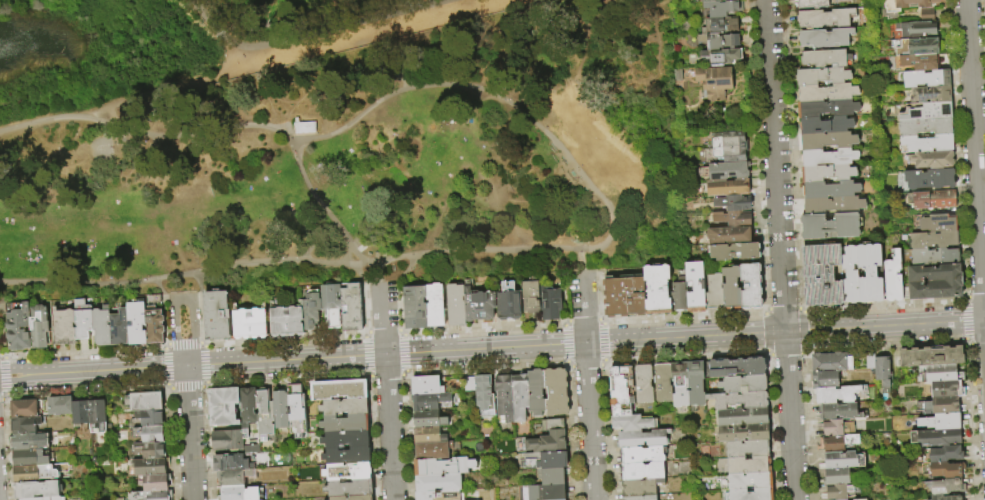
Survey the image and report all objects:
building: (716, 0)
building: (813, 4)
building: (907, 4)
building: (723, 8)
building: (927, 15)
building: (825, 18)
road: (353, 23)
building: (720, 25)
building: (916, 28)
road: (216, 32)
building: (825, 38)
building: (719, 42)
park: (181, 45)
building: (916, 47)
building: (722, 57)
building: (826, 58)
building: (922, 62)
building: (678, 76)
building: (823, 76)
building: (714, 78)
building: (927, 78)
building: (827, 92)
road: (495, 94)
building: (714, 95)
building: (931, 95)
road: (131, 98)
building: (828, 108)
building: (927, 111)
building: (826, 125)
building: (925, 127)
road: (272, 128)
building: (304, 128)
building: (828, 140)
road: (298, 141)
building: (927, 143)
park: (101, 148)
building: (727, 148)
road: (757, 154)
road: (791, 155)
building: (830, 157)
building: (932, 159)
park: (366, 165)
road: (975, 166)
building: (726, 171)
building: (828, 173)
building: (930, 179)
building: (726, 187)
building: (831, 190)
building: (931, 200)
building: (733, 203)
building: (834, 205)
building: (731, 219)
building: (935, 223)
building: (830, 226)
building: (729, 235)
building: (934, 240)
road: (780, 249)
road: (461, 251)
building: (735, 252)
building: (935, 257)
road: (572, 271)
road: (588, 271)
road: (181, 273)
road: (359, 274)
building: (850, 274)
building: (870, 274)
building: (822, 275)
building: (894, 278)
road: (198, 281)
building: (935, 282)
road: (388, 283)
road: (157, 285)
building: (751, 286)
building: (695, 287)
building: (731, 287)
building: (657, 290)
road: (11, 293)
building: (714, 293)
building: (679, 295)
road: (564, 296)
road: (597, 296)
building: (624, 296)
building: (531, 297)
road: (964, 297)
road: (976, 297)
road: (181, 302)
building: (509, 302)
building: (332, 304)
building: (550, 304)
road: (884, 304)
building: (435, 305)
building: (456, 305)
building: (479, 305)
road: (398, 306)
building: (415, 307)
road: (583, 307)
building: (353, 308)
road: (364, 308)
road: (783, 308)
building: (311, 309)
road: (765, 309)
road: (802, 310)
building: (217, 315)
road: (683, 316)
road: (200, 317)
road: (164, 318)
building: (84, 319)
building: (286, 320)
road: (582, 320)
road: (601, 320)
road: (565, 321)
road: (963, 321)
building: (137, 323)
building: (251, 324)
building: (40, 326)
building: (103, 326)
building: (155, 326)
building: (65, 327)
road: (483, 327)
building: (20, 328)
building: (120, 328)
road: (1, 330)
road: (382, 331)
road: (364, 332)
road: (401, 332)
road: (284, 339)
road: (183, 343)
road: (966, 343)
road: (977, 343)
road: (203, 344)
road: (164, 345)
road: (492, 349)
road: (83, 351)
road: (3, 356)
building: (932, 356)
building: (870, 360)
building: (832, 362)
building: (737, 368)
building: (883, 371)
building: (942, 373)
building: (825, 379)
building: (663, 382)
building: (643, 383)
building: (697, 383)
building: (469, 384)
building: (743, 384)
building: (679, 385)
building: (426, 386)
building: (943, 389)
building: (339, 390)
building: (621, 391)
road: (387, 392)
building: (537, 392)
building: (556, 392)
building: (836, 395)
building: (520, 396)
building: (484, 397)
building: (505, 397)
building: (144, 401)
building: (429, 401)
building: (739, 401)
building: (60, 405)
building: (942, 405)
building: (224, 406)
building: (248, 407)
building: (344, 407)
building: (25, 409)
building: (280, 410)
building: (296, 411)
building: (840, 411)
building: (264, 414)
building: (81, 416)
building: (97, 416)
building: (743, 417)
building: (150, 418)
building: (428, 419)
road: (589, 421)
building: (941, 421)
building: (633, 423)
building: (345, 424)
building: (25, 425)
building: (837, 427)
road: (189, 433)
building: (743, 433)
building: (146, 435)
building: (429, 435)
building: (935, 437)
building: (549, 438)
building: (346, 439)
building: (643, 439)
building: (231, 441)
building: (26, 442)
building: (839, 442)
building: (747, 448)
building: (436, 450)
building: (148, 451)
building: (942, 454)
building: (642, 455)
building: (347, 456)
building: (32, 458)
building: (544, 460)
building: (841, 460)
building: (862, 461)
building: (231, 463)
building: (749, 465)
building: (443, 466)
building: (149, 467)
building: (943, 469)
building: (348, 471)
building: (641, 471)
building: (38, 472)
building: (551, 476)
building: (836, 476)
building: (235, 478)
building: (750, 481)
building: (155, 482)
building: (438, 483)
building: (946, 486)
building: (640, 487)
building: (349, 488)
building: (38, 489)
building: (840, 491)
building: (542, 492)
building: (240, 494)
building: (151, 495)
building: (438, 495)
building: (752, 495)
building: (641, 497)
building: (946, 497)
building: (44, 498)
building: (353, 498)
building: (860, 499)

